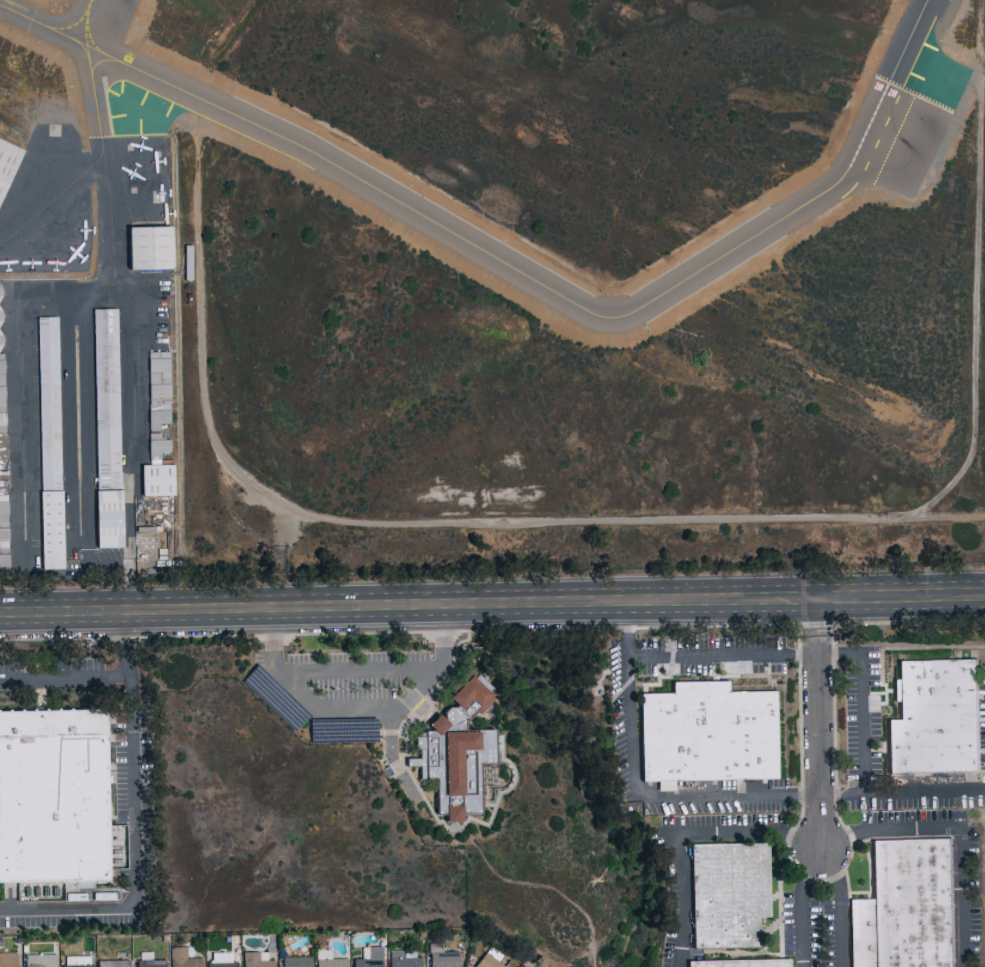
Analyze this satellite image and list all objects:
airport taxiway: (87, 20)
building: (6, 159)
building: (147, 247)
airport taxiway: (516, 269)
airport: (489, 286)
building: (0, 303)
building: (0, 332)
building: (157, 389)
building: (106, 399)
building: (2, 422)
building: (48, 442)
building: (156, 447)
building: (154, 480)
road: (945, 515)
road: (807, 517)
building: (106, 518)
building: (4, 534)
road: (492, 610)
road: (124, 646)
road: (790, 653)
road: (358, 670)
road: (359, 707)
building: (938, 721)
road: (630, 725)
road: (821, 727)
building: (710, 736)
building: (455, 748)
road: (393, 754)
road: (903, 790)
road: (132, 793)
road: (727, 793)
building: (53, 800)
road: (818, 849)
road: (823, 853)
building: (730, 897)
building: (908, 909)
building: (440, 956)
building: (368, 957)
building: (181, 958)
building: (403, 958)
building: (488, 958)
building: (8, 959)
building: (220, 959)
building: (255, 959)
building: (328, 959)
building: (39, 960)
building: (77, 961)
building: (148, 961)
building: (295, 961)
building: (112, 963)
building: (743, 964)

